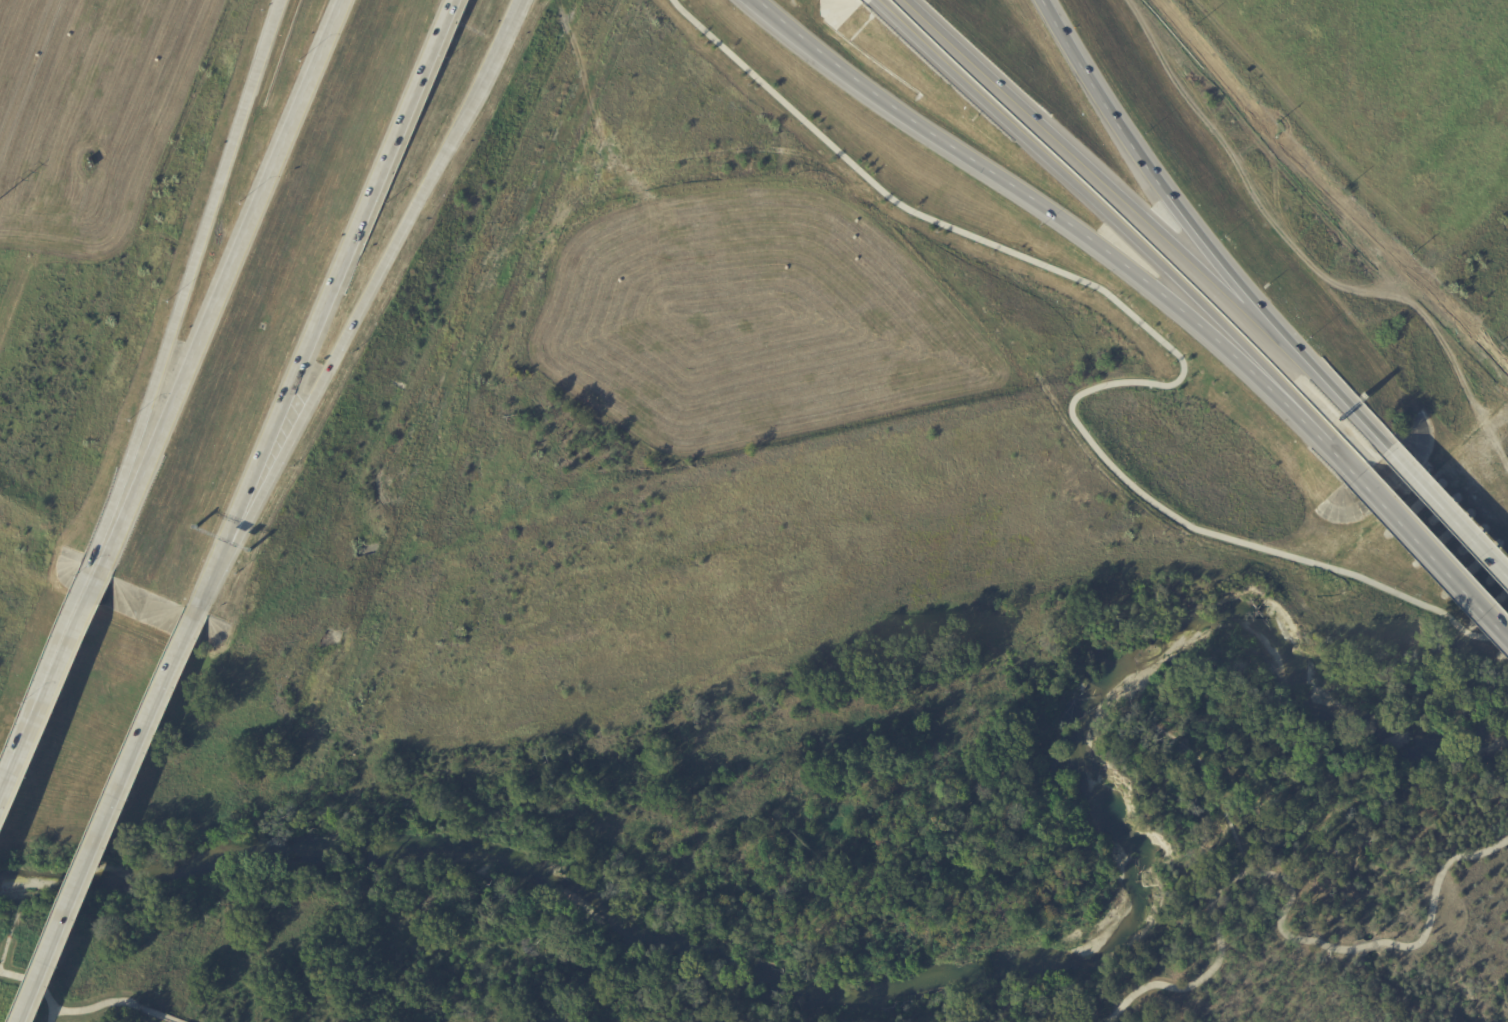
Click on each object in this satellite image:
road: (500, 49)
road: (823, 54)
road: (1080, 158)
road: (1142, 161)
road: (1077, 186)
road: (215, 235)
road: (1086, 237)
road: (338, 292)
road: (218, 294)
road: (1165, 340)
road: (346, 341)
road: (1321, 382)
road: (1313, 432)
road: (1447, 514)
road: (1432, 560)
road: (206, 601)
road: (45, 702)
road: (1191, 749)
road: (115, 820)
park: (1310, 826)
road: (1233, 831)
road: (1243, 858)
road: (1280, 922)
road: (6, 950)
river: (920, 977)
road: (38, 984)
road: (116, 1001)
road: (1118, 1013)

